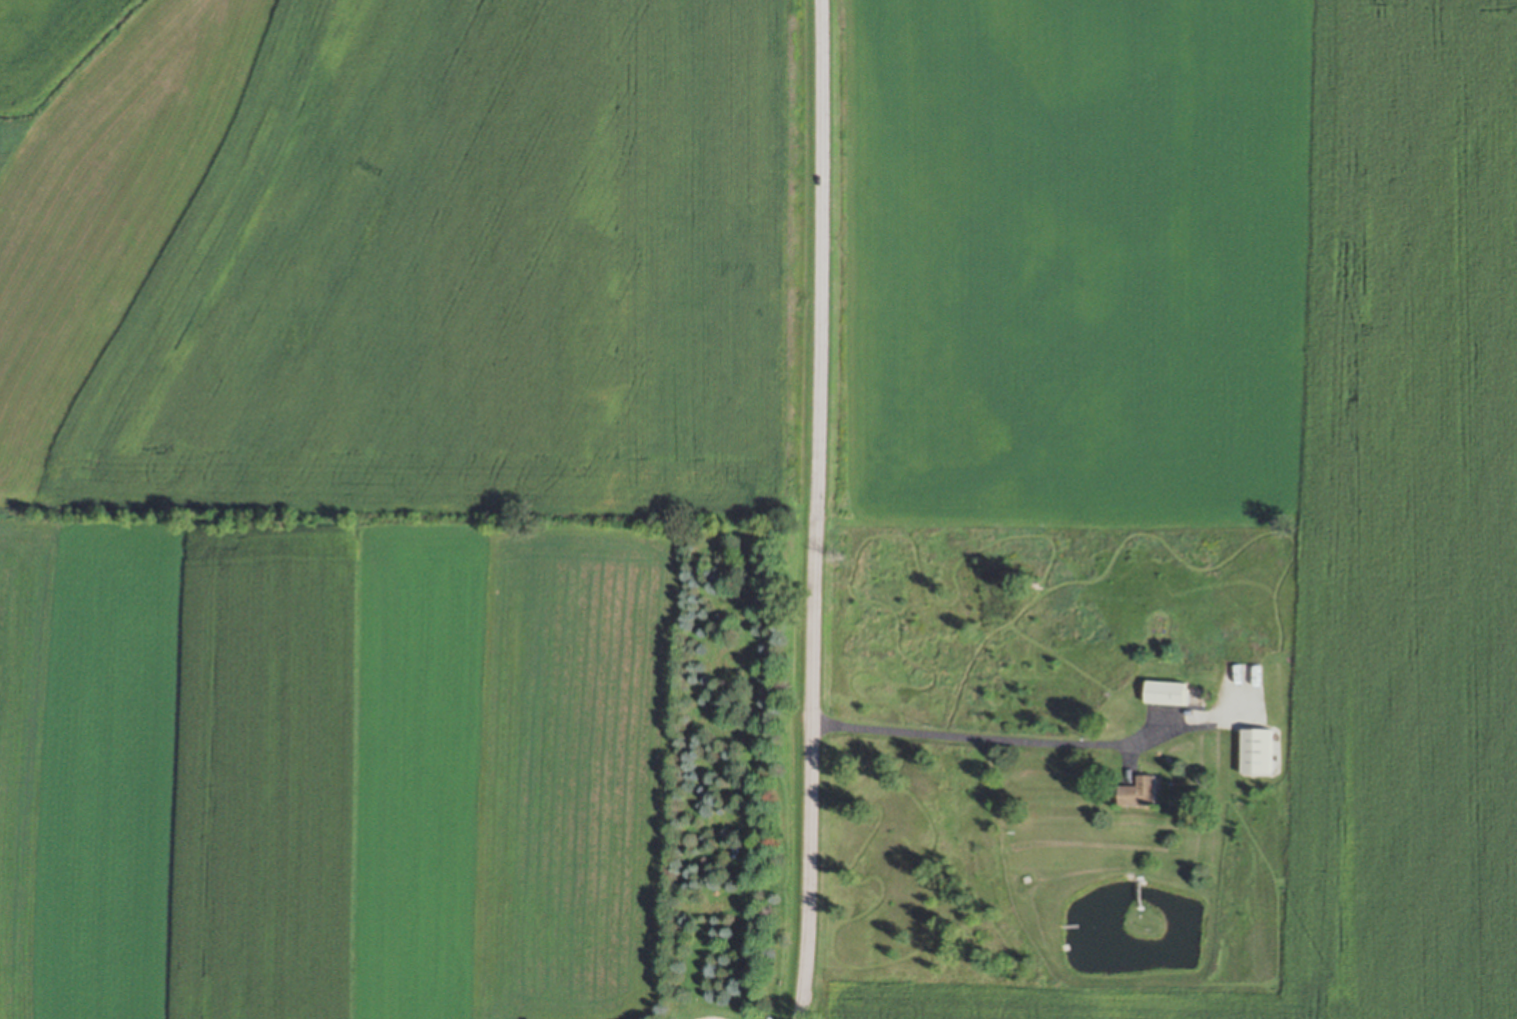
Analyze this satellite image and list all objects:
road: (815, 509)
building: (1169, 694)
building: (1259, 753)
building: (1141, 794)

